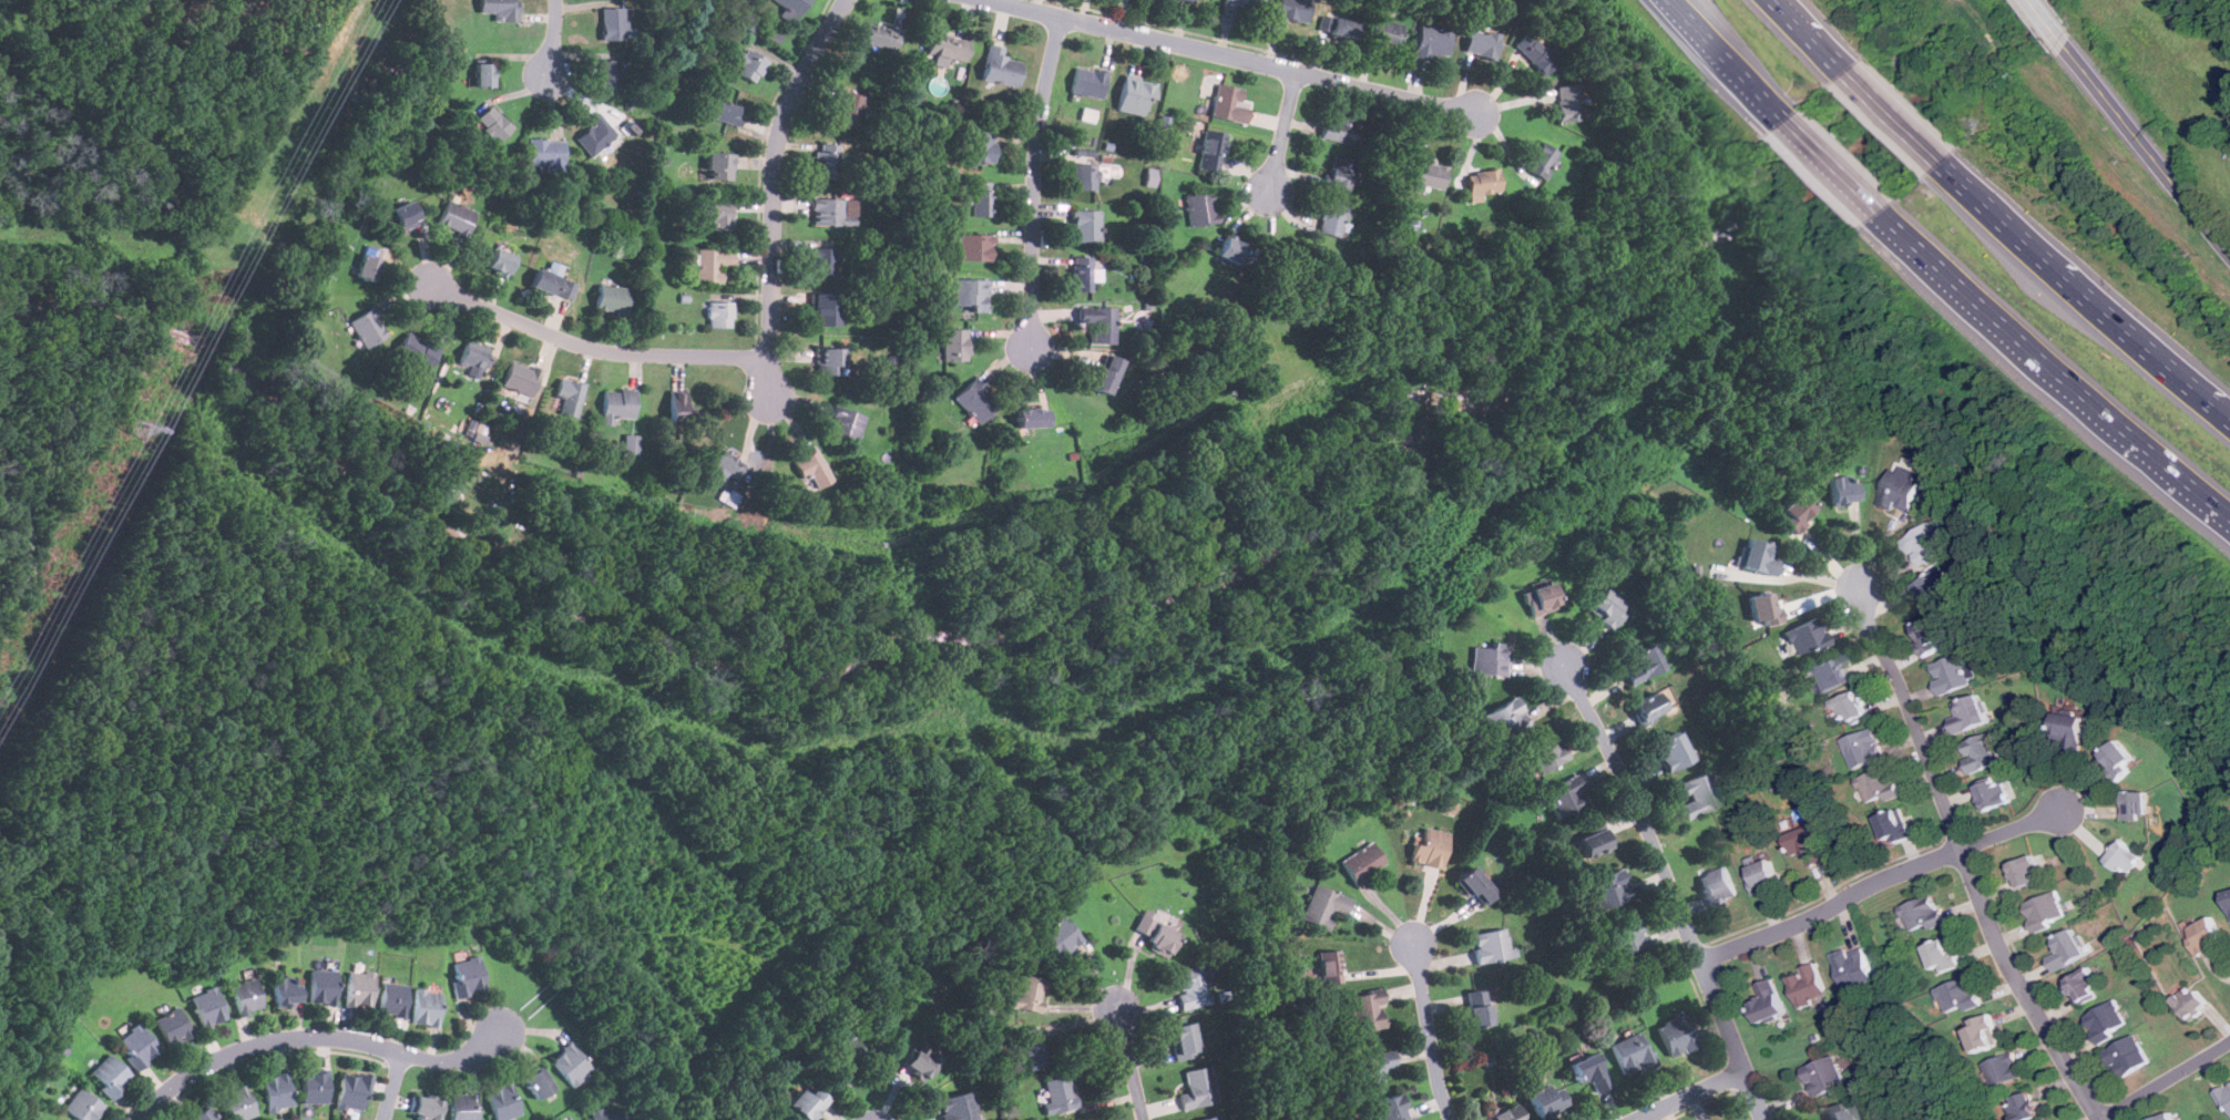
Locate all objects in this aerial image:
building: (1188, 0)
building: (1205, 0)
building: (1244, 4)
building: (792, 6)
building: (500, 8)
building: (1292, 10)
road: (2046, 21)
building: (614, 22)
building: (1338, 24)
building: (880, 35)
building: (1383, 35)
road: (553, 37)
road: (1813, 38)
building: (1433, 41)
building: (1482, 42)
building: (948, 47)
building: (1537, 52)
road: (1232, 55)
road: (1728, 62)
building: (749, 64)
building: (1001, 66)
building: (484, 73)
building: (611, 75)
building: (1087, 82)
building: (1135, 95)
building: (1229, 103)
building: (1569, 103)
building: (849, 107)
building: (727, 112)
road: (1899, 122)
building: (492, 123)
building: (1342, 126)
road: (1283, 131)
building: (596, 135)
building: (979, 146)
road: (2146, 147)
building: (1211, 150)
building: (545, 152)
building: (825, 160)
building: (1543, 160)
building: (719, 165)
road: (1834, 168)
building: (1341, 173)
building: (1426, 174)
building: (1084, 175)
road: (1034, 181)
building: (1484, 181)
road: (774, 189)
building: (981, 198)
building: (1200, 208)
building: (833, 212)
building: (715, 213)
building: (403, 215)
building: (457, 217)
building: (1332, 218)
building: (1086, 226)
building: (1382, 238)
building: (974, 247)
building: (1230, 248)
building: (822, 259)
building: (500, 261)
building: (369, 263)
building: (713, 263)
building: (1082, 273)
building: (554, 284)
building: (970, 292)
road: (2086, 297)
building: (612, 298)
building: (825, 308)
building: (720, 314)
building: (1098, 322)
building: (368, 328)
building: (954, 343)
road: (594, 347)
building: (417, 351)
building: (474, 355)
building: (830, 360)
road: (2054, 369)
building: (1107, 373)
building: (521, 377)
building: (569, 394)
building: (975, 401)
building: (617, 404)
building: (679, 408)
building: (1034, 418)
building: (846, 423)
power tower: (137, 429)
building: (631, 444)
building: (726, 462)
building: (814, 469)
building: (1842, 489)
building: (1901, 491)
building: (1796, 512)
building: (1925, 544)
building: (1759, 556)
road: (1804, 575)
building: (1934, 585)
building: (1542, 598)
building: (1606, 607)
building: (1762, 607)
building: (1930, 635)
building: (1808, 636)
building: (1489, 658)
building: (1644, 664)
building: (1953, 672)
building: (1829, 674)
building: (1653, 705)
building: (1851, 708)
building: (1970, 713)
building: (1506, 719)
building: (2070, 731)
building: (1864, 747)
building: (1672, 750)
building: (1546, 751)
building: (1981, 751)
building: (2120, 759)
building: (1878, 784)
building: (1996, 792)
building: (1696, 794)
building: (1567, 795)
building: (2138, 804)
building: (1895, 824)
building: (1595, 842)
building: (1808, 844)
building: (1430, 846)
building: (2126, 856)
road: (1968, 857)
building: (1362, 862)
building: (2028, 870)
building: (1764, 875)
road: (1880, 882)
building: (1477, 885)
building: (1718, 885)
building: (1609, 888)
road: (1672, 890)
building: (2229, 897)
building: (1323, 905)
building: (2045, 910)
building: (1924, 913)
building: (1156, 931)
building: (2207, 935)
building: (1061, 936)
building: (1628, 939)
building: (1491, 945)
building: (2068, 948)
building: (1944, 954)
building: (1329, 965)
building: (1853, 965)
building: (468, 974)
building: (2086, 984)
building: (323, 986)
building: (1190, 986)
building: (1808, 986)
building: (360, 987)
building: (286, 989)
building: (1031, 993)
building: (1961, 994)
building: (246, 995)
building: (393, 998)
building: (1769, 999)
building: (2192, 999)
building: (208, 1006)
building: (427, 1006)
building: (1480, 1007)
building: (1365, 1009)
building: (2107, 1020)
building: (173, 1026)
building: (1984, 1032)
road: (1433, 1034)
building: (1677, 1035)
road: (315, 1038)
building: (1184, 1039)
building: (137, 1046)
building: (1031, 1046)
building: (842, 1051)
building: (1631, 1052)
building: (2128, 1055)
building: (921, 1059)
building: (570, 1062)
building: (1375, 1064)
road: (1128, 1065)
building: (2002, 1068)
building: (1592, 1070)
building: (110, 1075)
building: (1824, 1075)
building: (538, 1080)
road: (2166, 1081)
building: (315, 1086)
road: (395, 1087)
building: (1198, 1087)
building: (276, 1090)
building: (352, 1090)
building: (1058, 1093)
building: (2226, 1095)
road: (1692, 1096)
building: (1547, 1098)
building: (503, 1101)
building: (807, 1101)
building: (238, 1102)
building: (83, 1104)
building: (463, 1106)
building: (426, 1107)
building: (958, 1107)
building: (1391, 1107)
building: (2024, 1107)
building: (606, 1112)
building: (1508, 1112)
building: (1841, 1112)
building: (201, 1114)
building: (1208, 1117)
building: (2162, 1117)
building: (770, 1118)
building: (582, 1119)
building: (1076, 1119)

